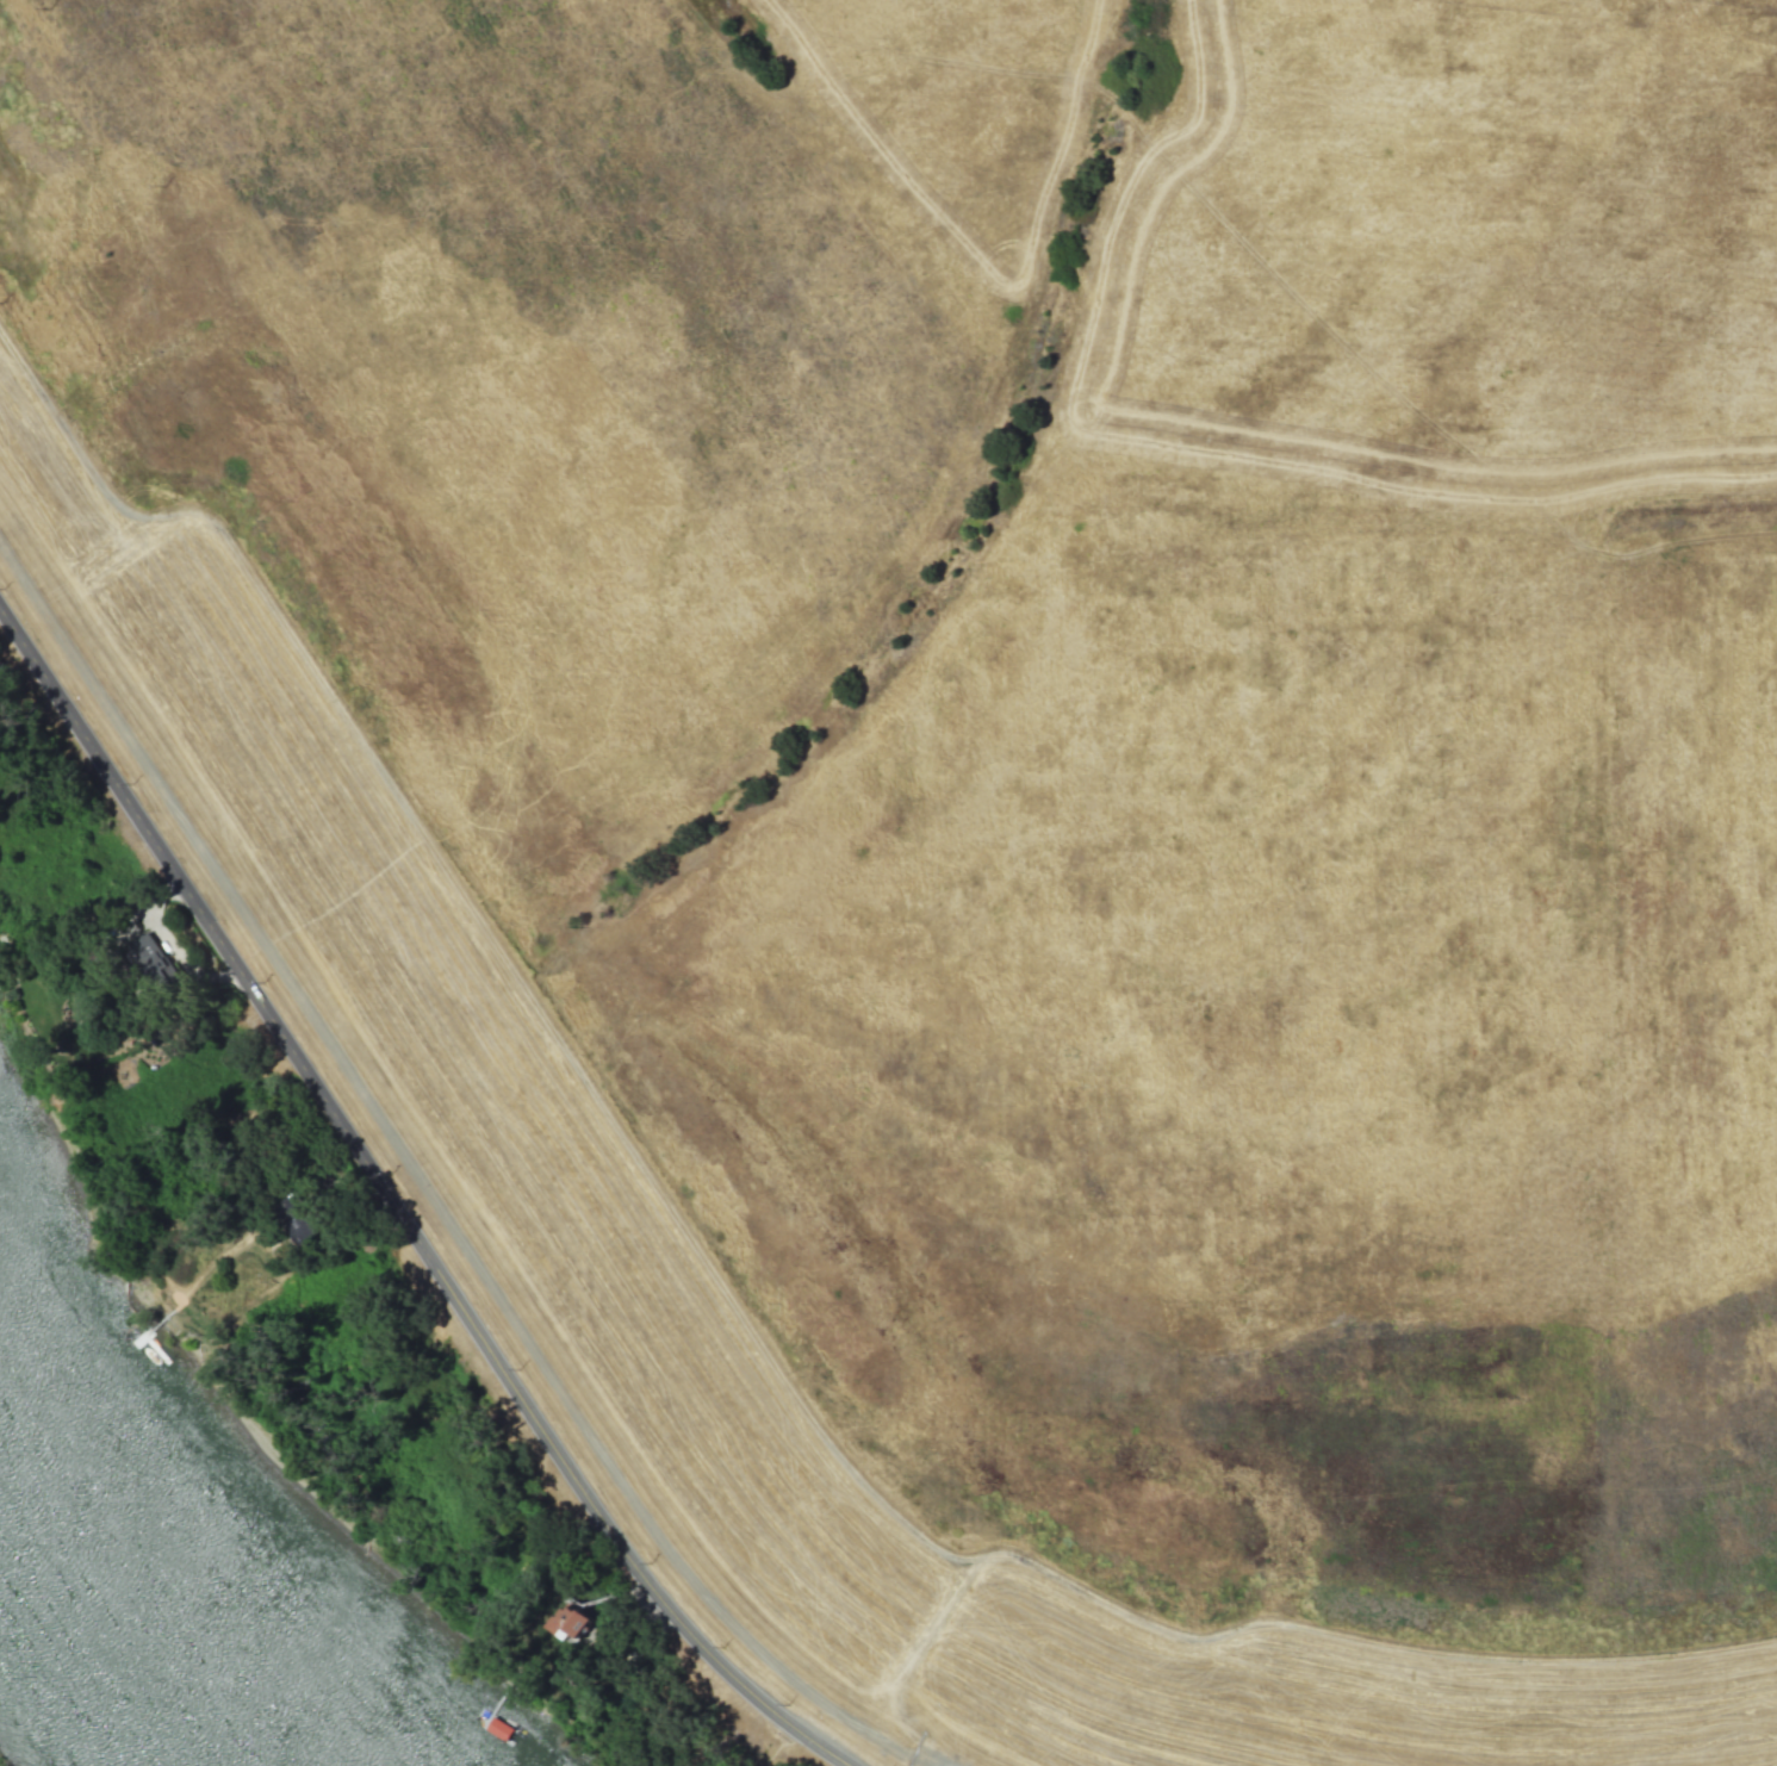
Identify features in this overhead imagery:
building: (153, 957)
road: (398, 1208)
building: (572, 1622)
river: (162, 1627)
building: (498, 1729)

